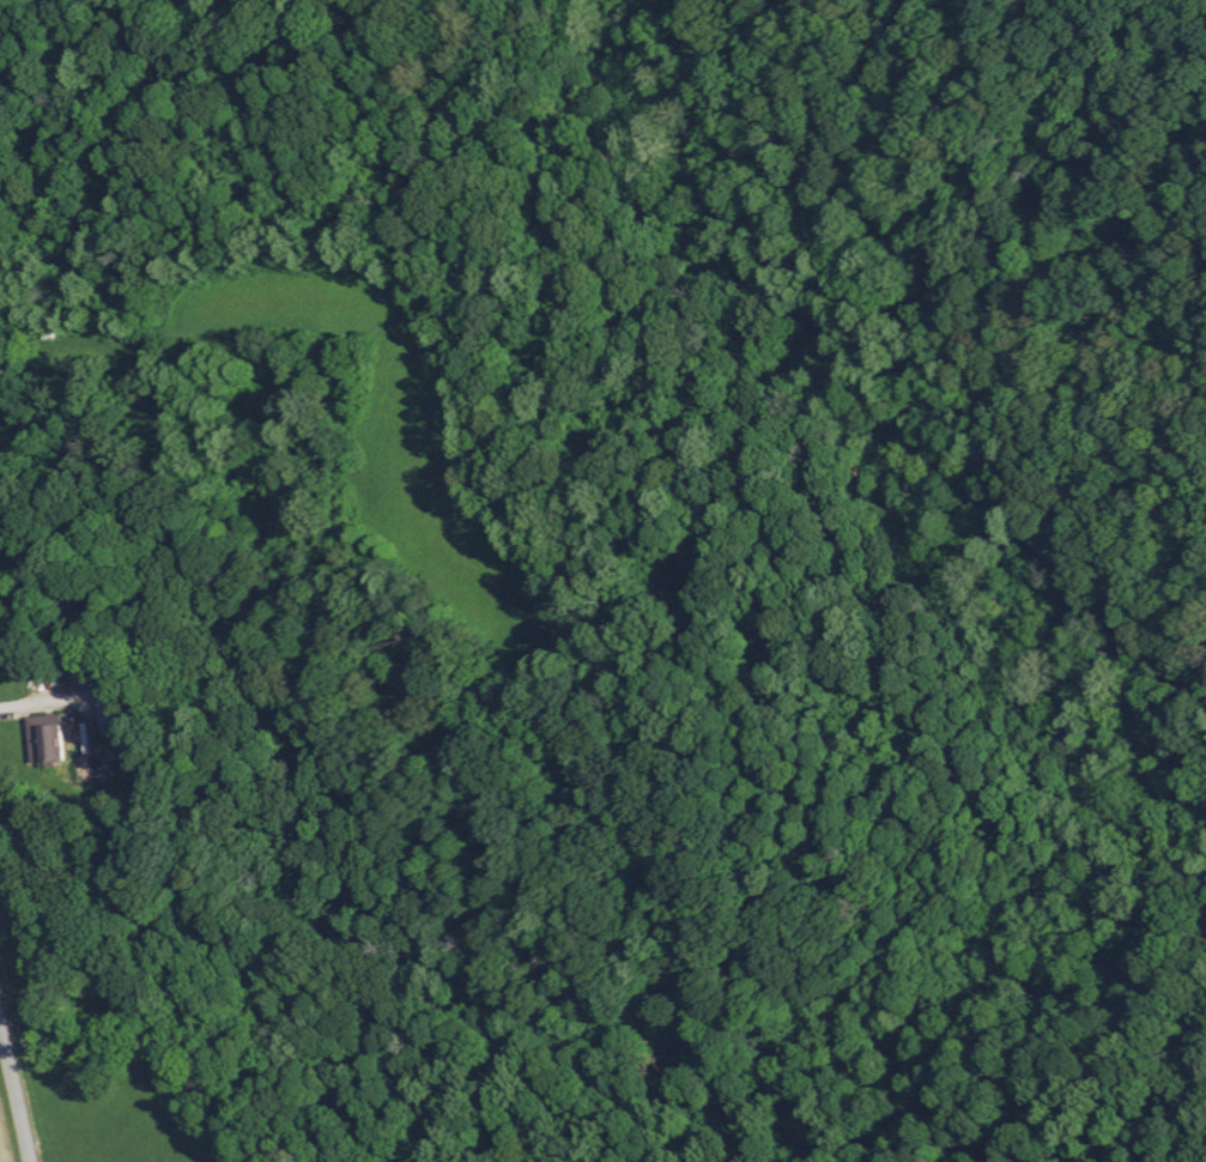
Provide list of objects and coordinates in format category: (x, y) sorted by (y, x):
building: (104, 702)
road: (30, 704)
building: (42, 737)
road: (13, 1099)

